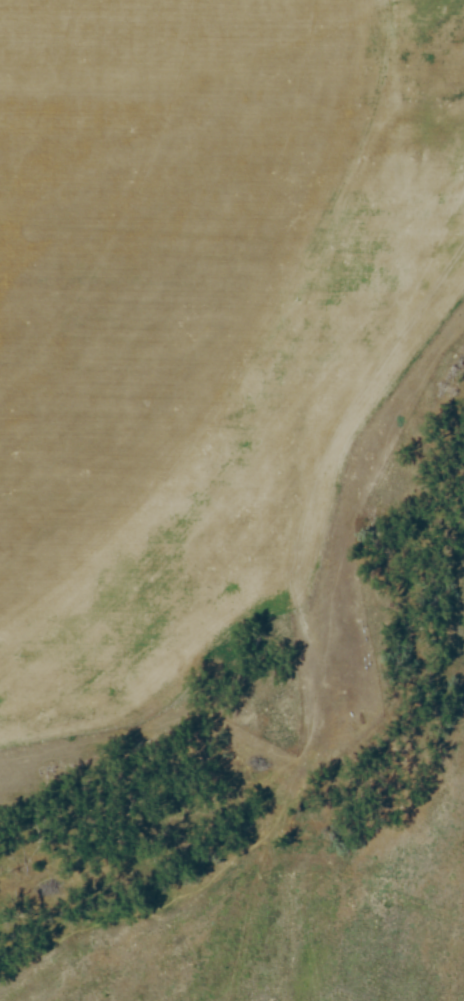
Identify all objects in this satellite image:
road: (337, 456)

